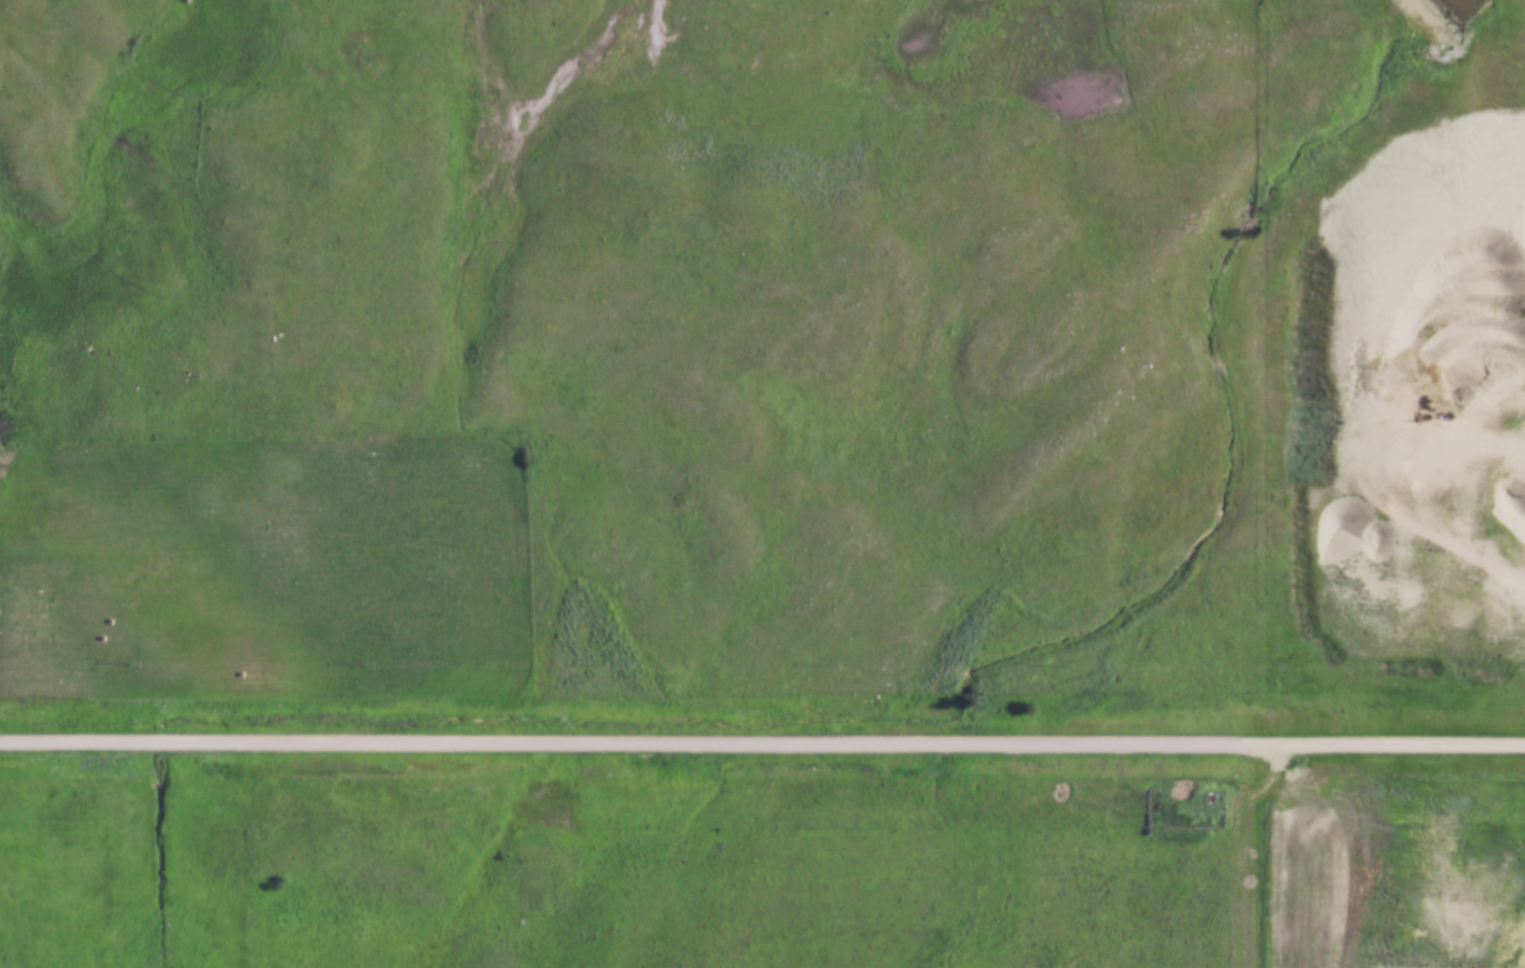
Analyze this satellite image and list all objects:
road: (762, 737)

